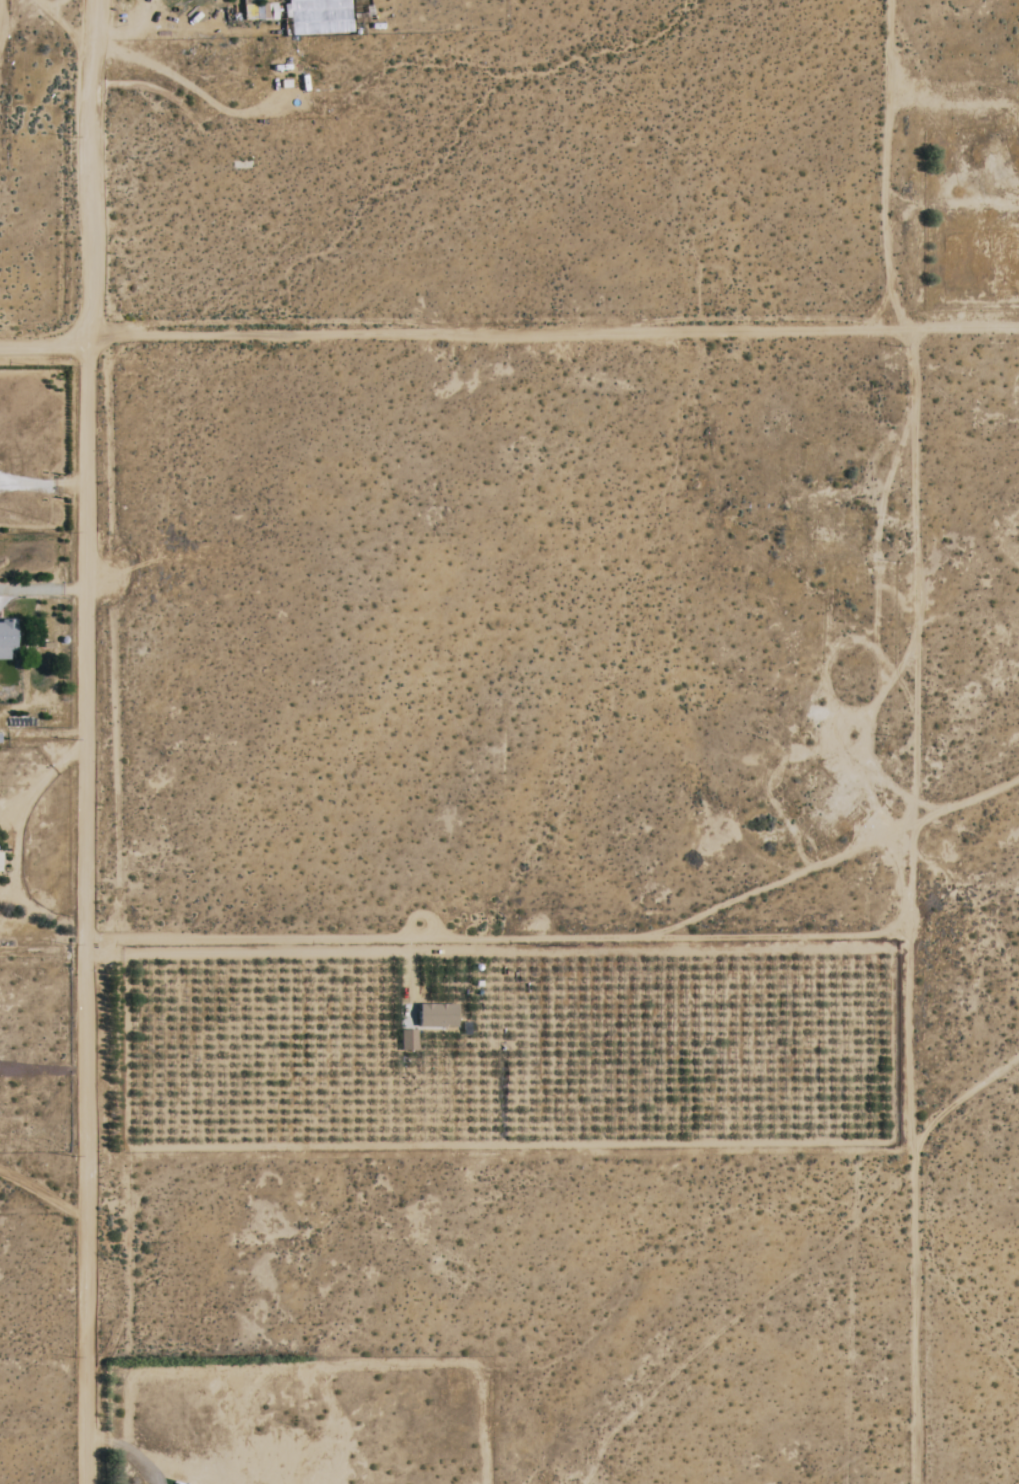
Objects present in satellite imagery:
road: (966, 330)
road: (457, 337)
building: (7, 639)
road: (92, 741)
road: (913, 742)
road: (782, 884)
road: (497, 939)
building: (438, 1015)
building: (409, 1040)

